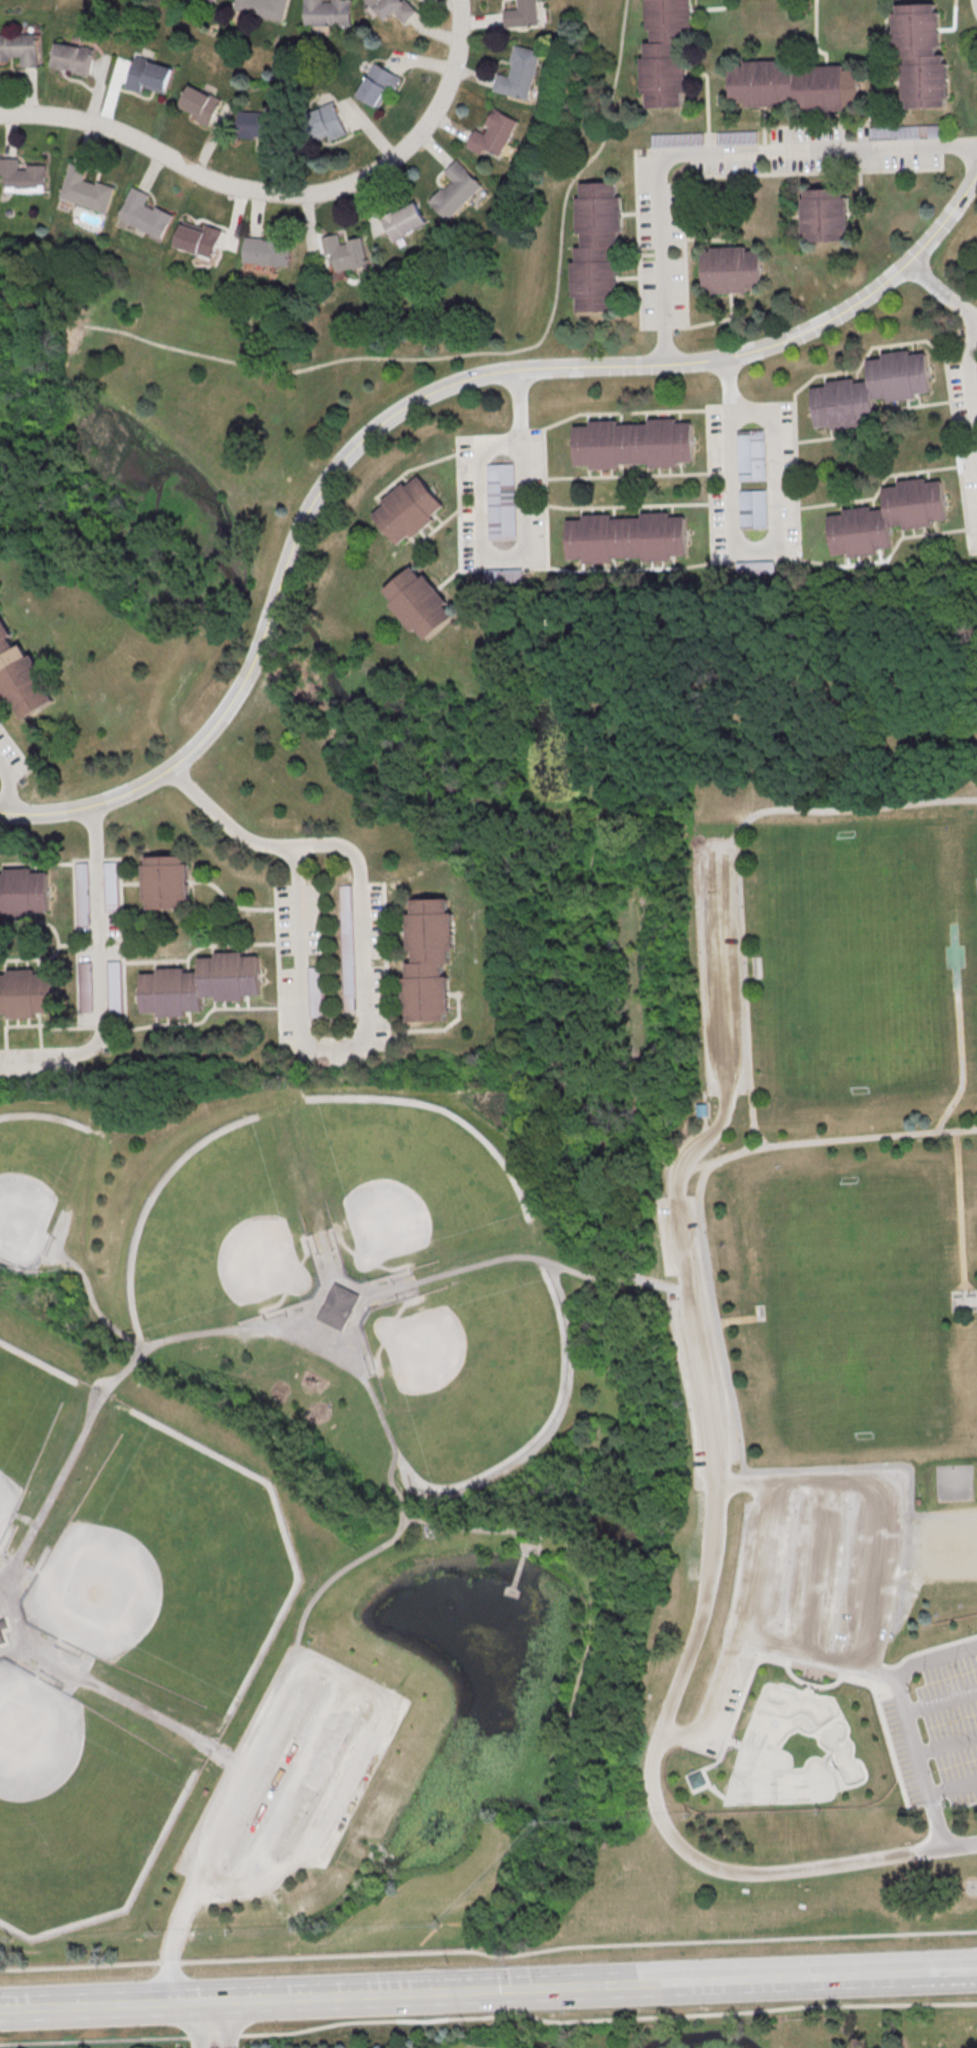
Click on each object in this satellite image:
building: (216, 0)
road: (976, 0)
building: (260, 7)
building: (392, 9)
park: (86, 11)
building: (325, 12)
building: (520, 13)
building: (19, 48)
building: (670, 52)
building: (918, 54)
building: (75, 57)
building: (517, 72)
building: (149, 76)
building: (379, 85)
building: (798, 86)
building: (199, 104)
building: (326, 121)
building: (260, 126)
building: (903, 131)
building: (494, 133)
building: (736, 137)
building: (676, 139)
road: (718, 156)
building: (22, 175)
building: (84, 188)
building: (454, 189)
road: (281, 192)
building: (142, 213)
building: (827, 215)
building: (405, 220)
building: (198, 238)
building: (599, 246)
building: (268, 250)
building: (347, 251)
building: (732, 270)
road: (941, 290)
road: (443, 356)
road: (970, 388)
building: (868, 389)
road: (416, 397)
park: (245, 402)
building: (630, 442)
building: (751, 454)
building: (500, 500)
building: (752, 507)
building: (411, 510)
building: (884, 517)
building: (624, 536)
road: (513, 553)
road: (751, 553)
building: (503, 574)
building: (424, 603)
building: (24, 673)
road: (8, 783)
road: (226, 822)
road: (725, 843)
park: (974, 868)
building: (168, 883)
building: (110, 886)
building: (23, 893)
building: (82, 893)
road: (363, 926)
building: (348, 947)
building: (425, 959)
road: (748, 961)
stadium: (757, 964)
park: (854, 964)
road: (302, 968)
parking lot: (720, 968)
road: (744, 971)
road: (720, 973)
stadium: (758, 974)
road: (98, 975)
road: (749, 977)
building: (114, 981)
building: (200, 984)
building: (315, 990)
building: (25, 993)
road: (960, 1031)
road: (706, 1099)
building: (703, 1111)
road: (706, 1128)
road: (750, 1141)
road: (742, 1152)
park: (29, 1170)
park: (414, 1172)
road: (960, 1210)
park: (207, 1232)
stadium: (337, 1261)
road: (479, 1264)
stadium: (322, 1265)
road: (614, 1277)
stadium: (384, 1282)
road: (657, 1283)
road: (688, 1285)
stadium: (392, 1299)
building: (339, 1307)
park: (858, 1310)
stadium: (299, 1312)
stadium: (760, 1316)
road: (736, 1318)
road: (350, 1325)
road: (257, 1330)
road: (324, 1338)
parking lot: (697, 1343)
stadium: (363, 1347)
park: (539, 1372)
park: (484, 1381)
park: (16, 1393)
road: (742, 1453)
road: (68, 1465)
road: (589, 1471)
road: (744, 1477)
park: (955, 1483)
road: (400, 1510)
road: (890, 1515)
road: (562, 1520)
road: (481, 1530)
road: (521, 1544)
park: (947, 1548)
park: (191, 1560)
road: (815, 1566)
pier: (513, 1573)
road: (331, 1581)
parking lot: (807, 1583)
road: (584, 1623)
road: (15, 1624)
road: (856, 1629)
building: (1, 1637)
road: (926, 1649)
road: (866, 1668)
road: (890, 1675)
road: (882, 1679)
road: (855, 1680)
road: (371, 1687)
road: (808, 1688)
road: (710, 1699)
road: (901, 1701)
road: (941, 1701)
road: (140, 1708)
road: (623, 1708)
road: (734, 1716)
road: (596, 1721)
parking lot: (936, 1726)
road: (733, 1742)
road: (947, 1746)
park: (794, 1751)
road: (304, 1768)
road: (685, 1775)
parking lot: (293, 1778)
building: (697, 1782)
road: (953, 1788)
road: (716, 1791)
road: (662, 1815)
park: (74, 1827)
road: (938, 1828)
road: (174, 1940)
road: (488, 1954)
road: (957, 1974)
road: (922, 1976)
road: (725, 1982)
road: (504, 1989)
road: (231, 1998)
road: (488, 2015)
road: (197, 2023)
road: (231, 2023)

